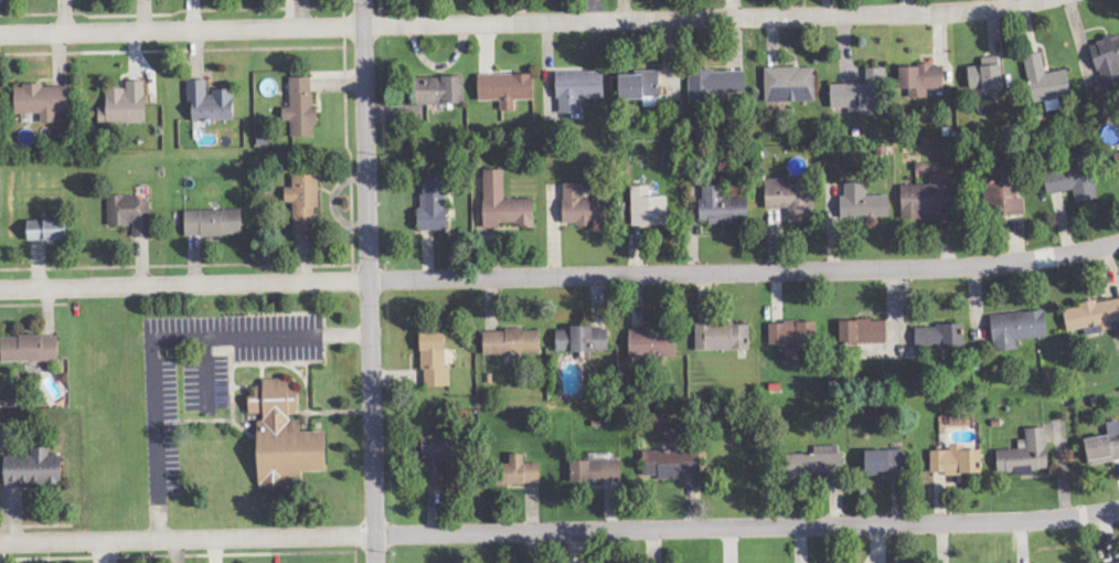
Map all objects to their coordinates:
road: (512, 20)
building: (1107, 60)
building: (988, 73)
building: (921, 78)
building: (1048, 79)
building: (717, 83)
building: (790, 84)
building: (507, 88)
building: (440, 89)
building: (578, 89)
building: (862, 94)
building: (43, 100)
building: (211, 102)
building: (125, 104)
building: (301, 106)
building: (1073, 179)
building: (1004, 194)
building: (929, 195)
building: (791, 199)
building: (305, 202)
building: (863, 202)
building: (433, 203)
building: (504, 204)
building: (583, 206)
building: (722, 206)
building: (648, 208)
building: (130, 213)
building: (213, 222)
building: (47, 230)
road: (593, 273)
road: (371, 281)
road: (32, 283)
building: (1093, 316)
road: (191, 325)
building: (1016, 328)
building: (863, 331)
building: (793, 332)
building: (940, 336)
building: (723, 337)
building: (583, 339)
building: (512, 341)
building: (653, 342)
building: (30, 348)
building: (435, 358)
building: (285, 436)
building: (1105, 445)
building: (1026, 454)
building: (436, 458)
building: (957, 460)
building: (817, 463)
building: (886, 463)
building: (672, 464)
building: (34, 468)
building: (522, 470)
building: (596, 471)
road: (559, 531)
building: (1117, 562)

